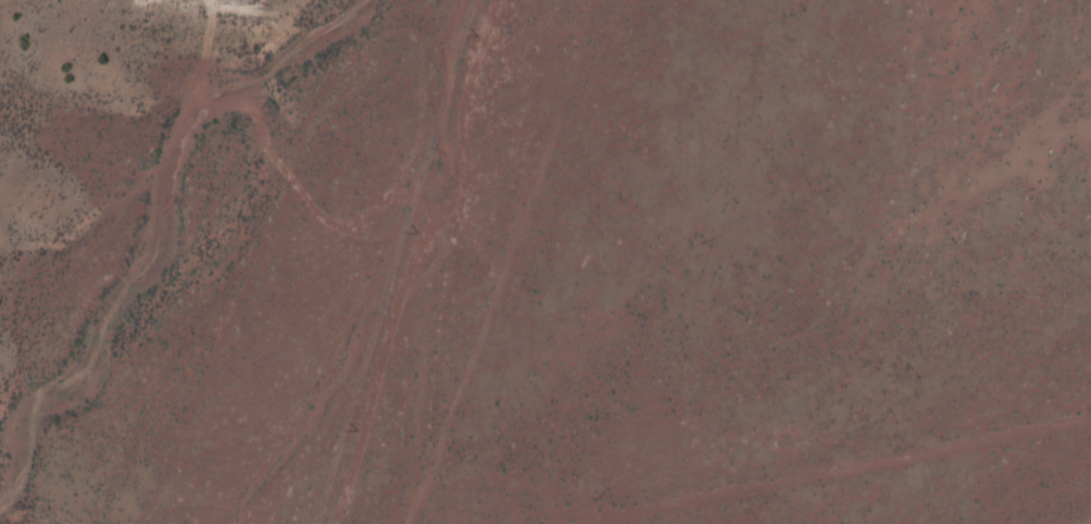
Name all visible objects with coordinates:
road: (989, 502)

